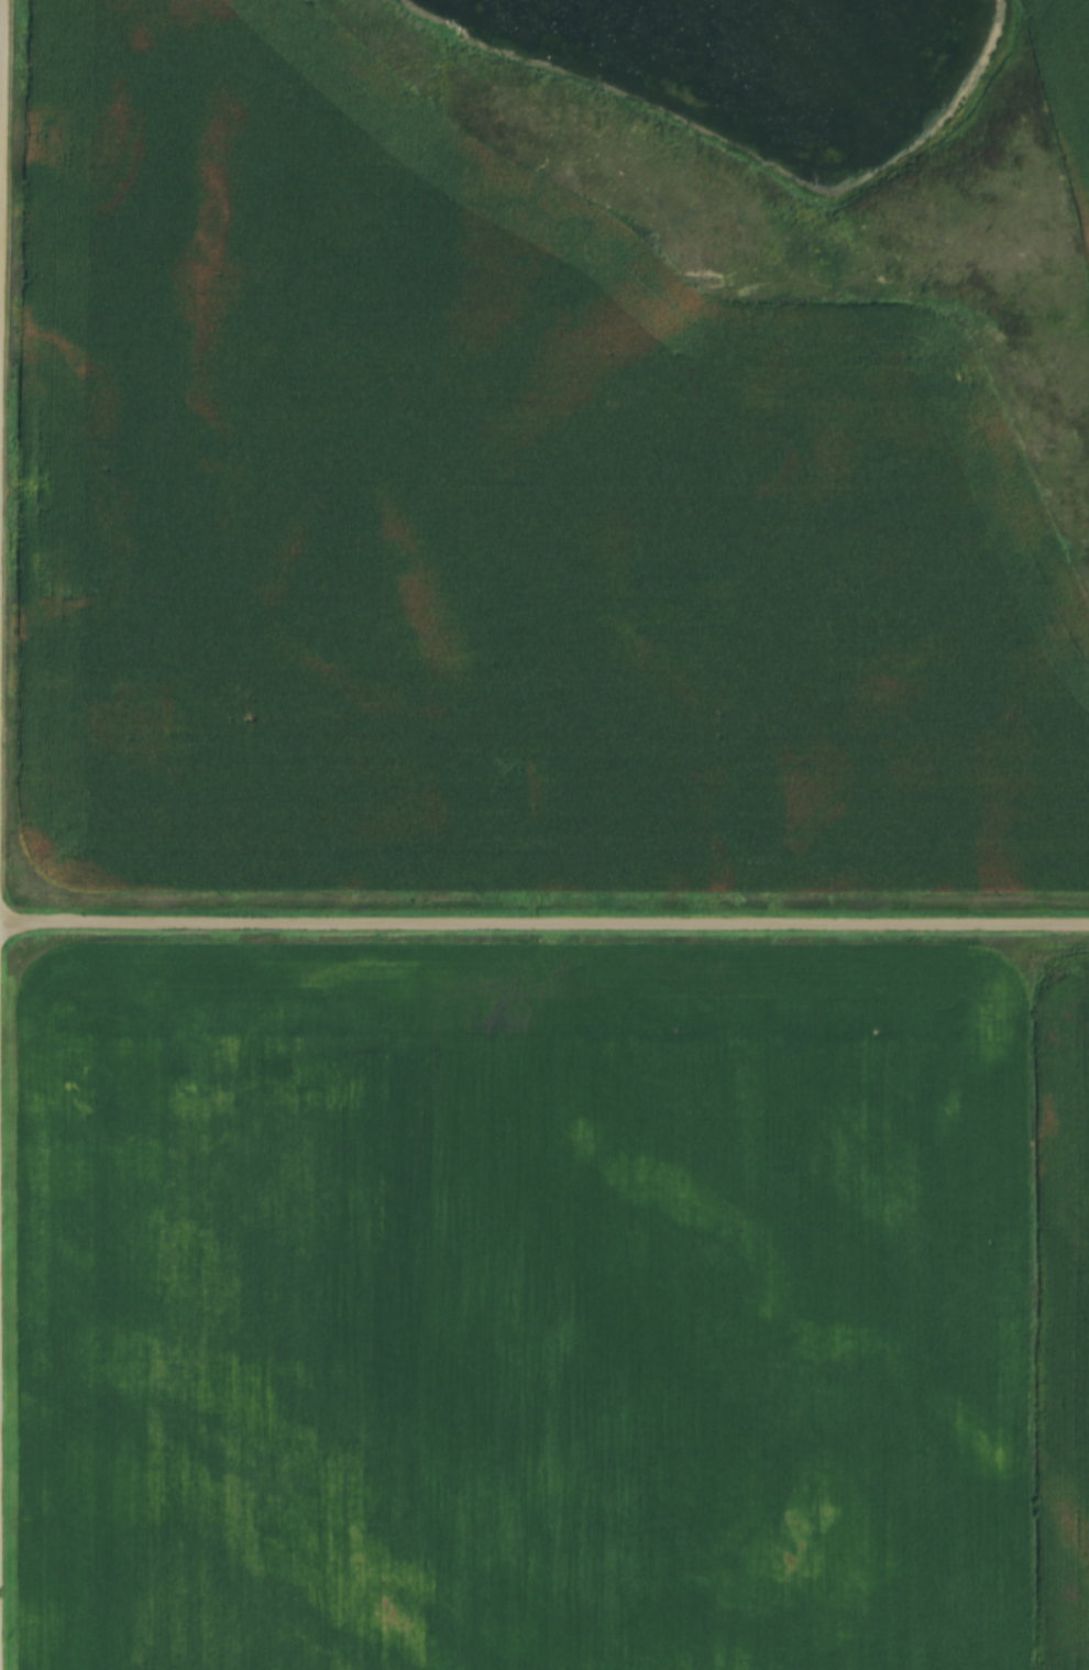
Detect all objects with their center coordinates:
road: (544, 920)

